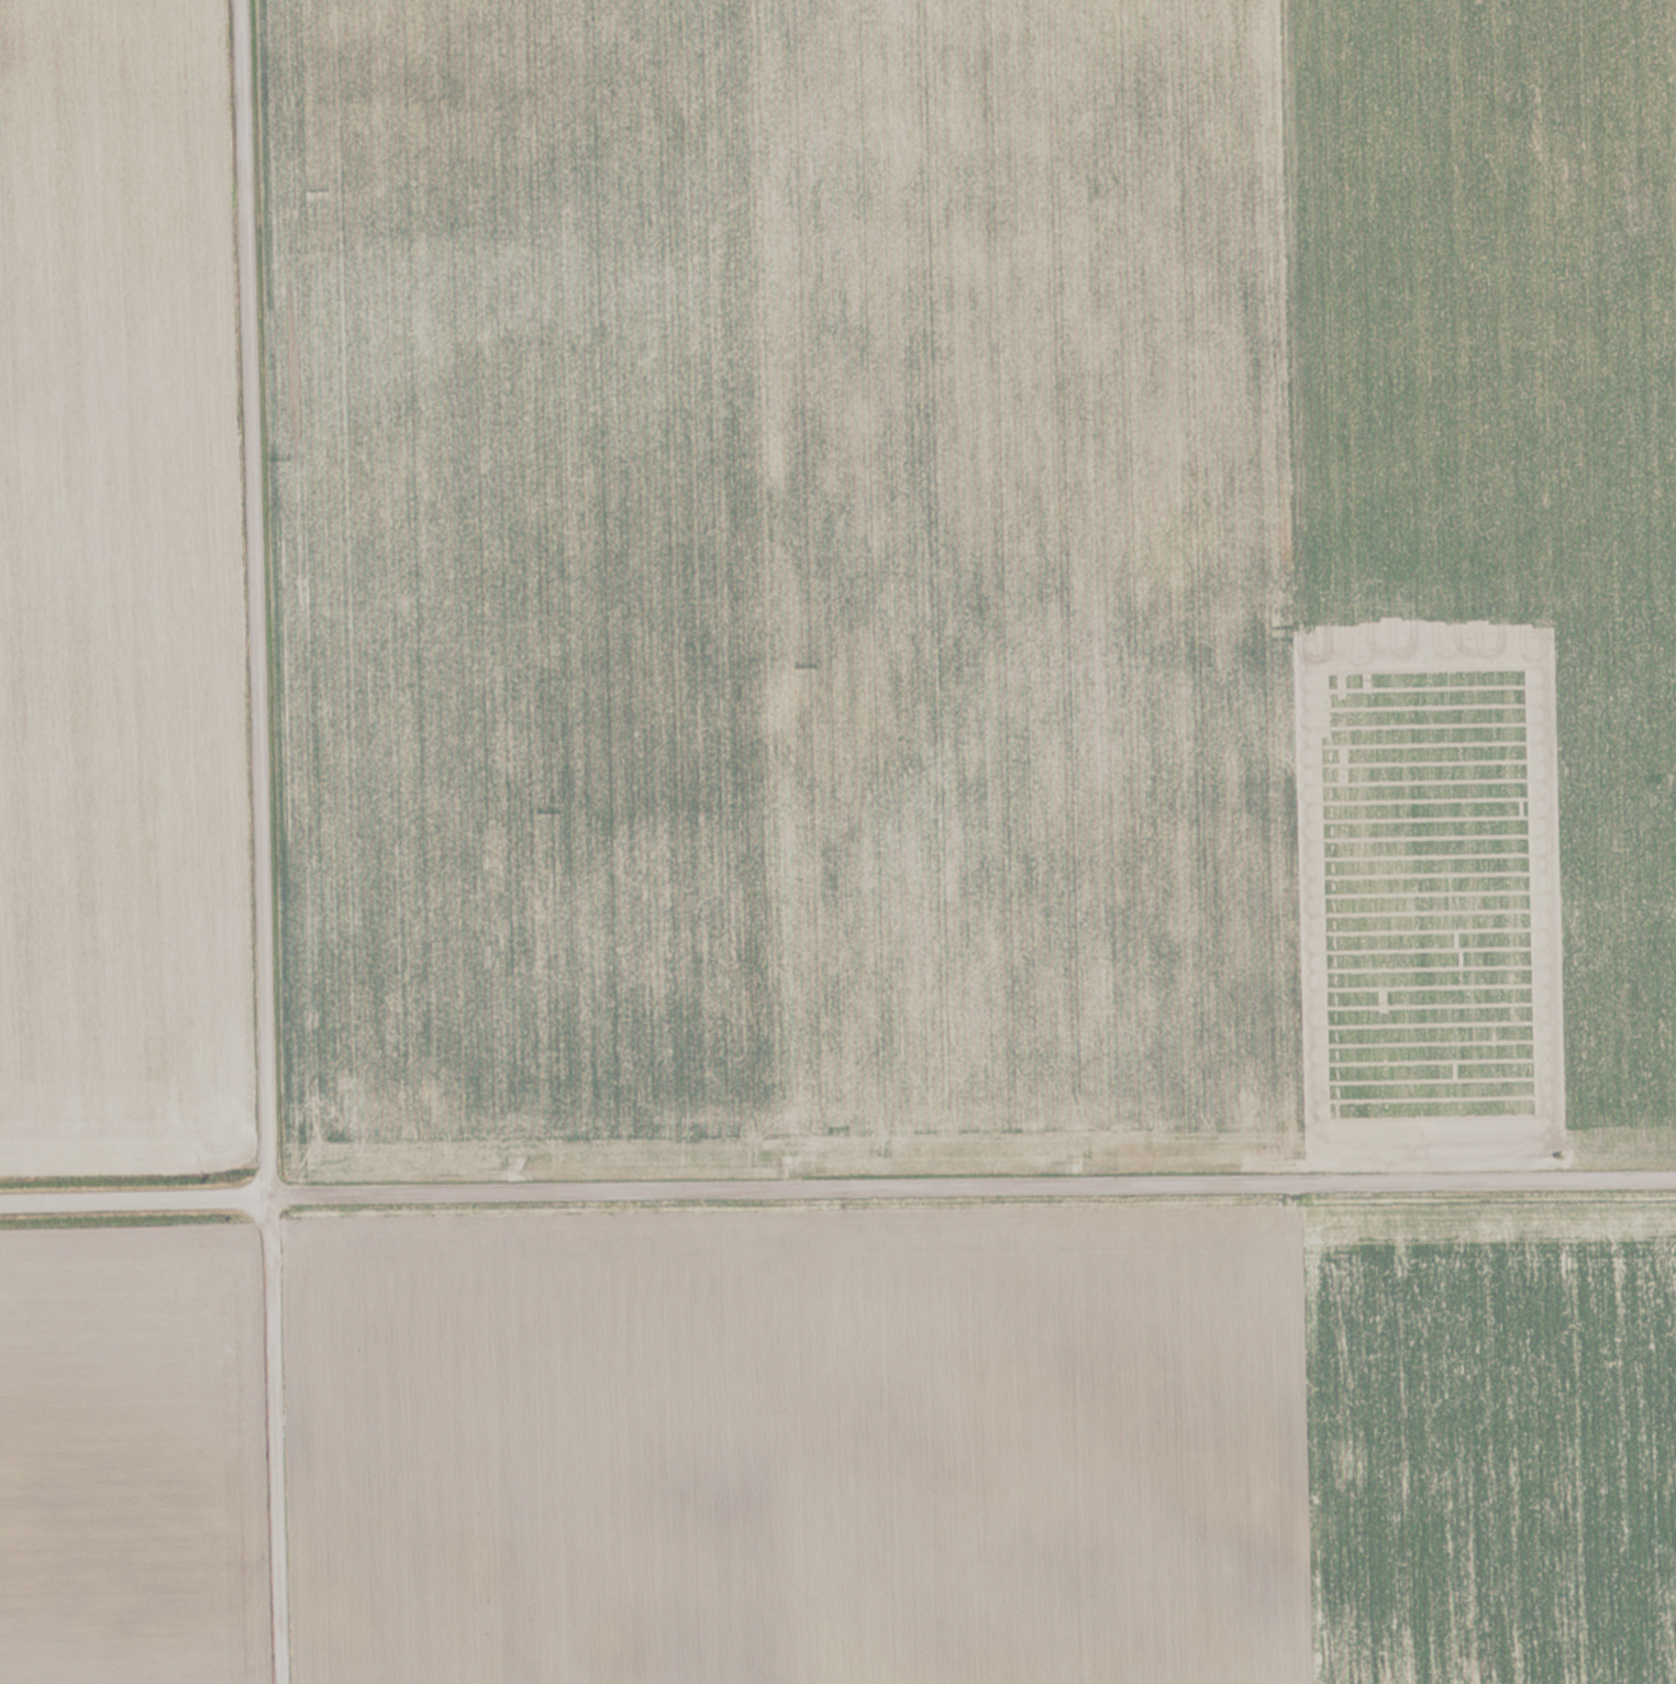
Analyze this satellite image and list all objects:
road: (269, 841)
road: (837, 1185)

